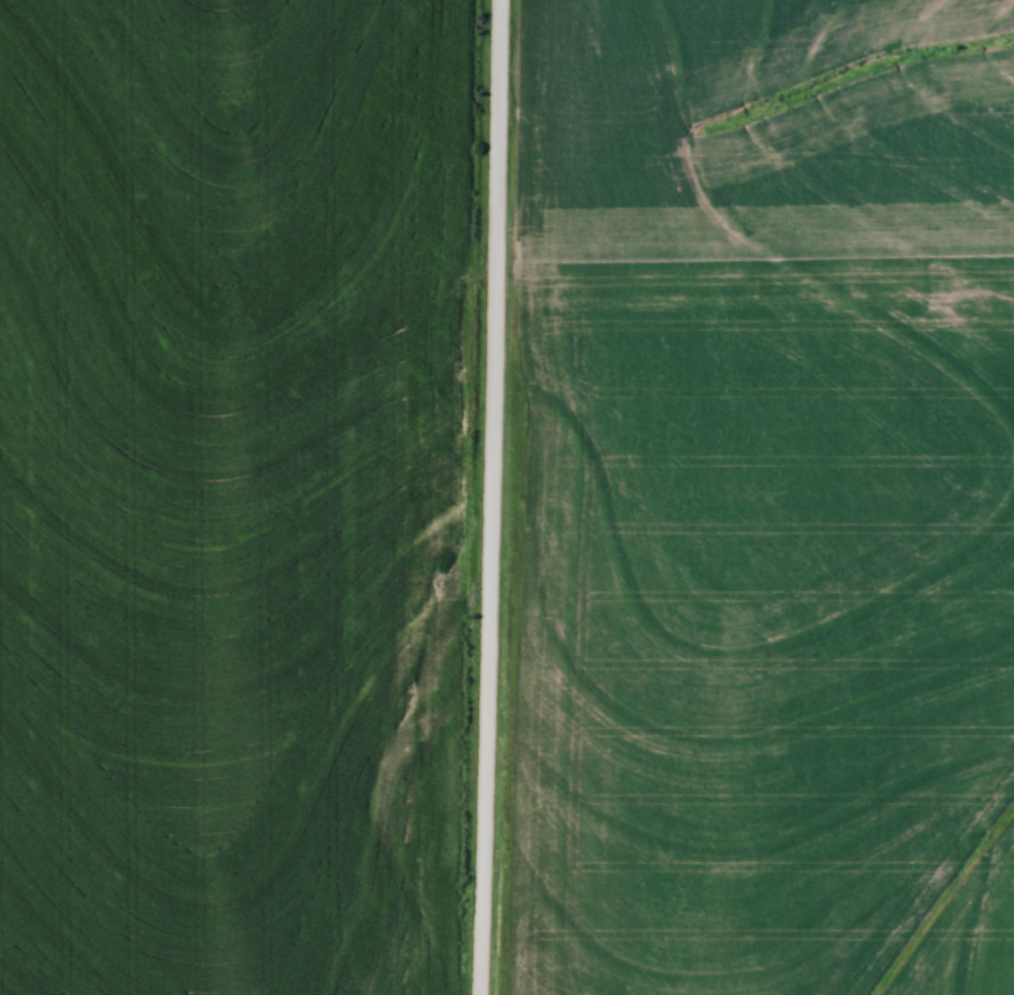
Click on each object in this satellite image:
road: (496, 497)

